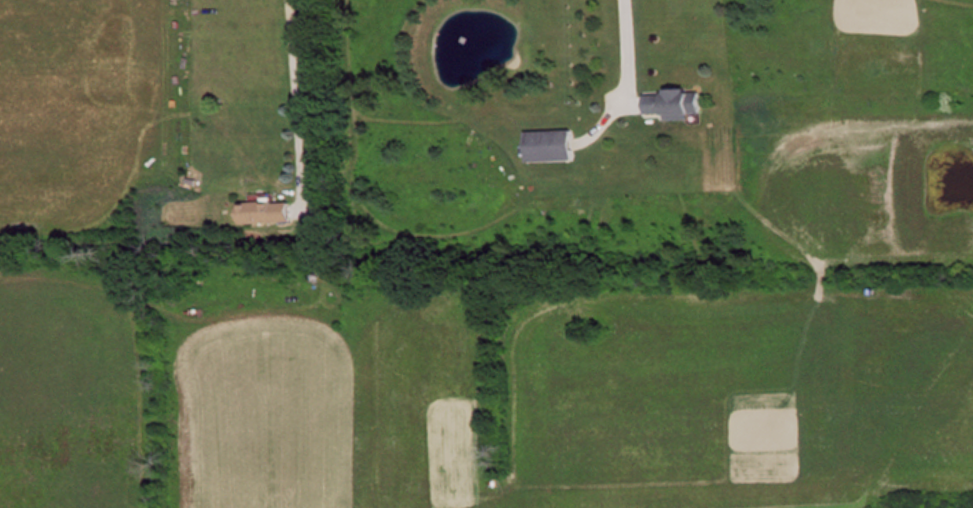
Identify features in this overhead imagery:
road: (618, 51)
building: (678, 104)
building: (552, 145)
building: (270, 212)

